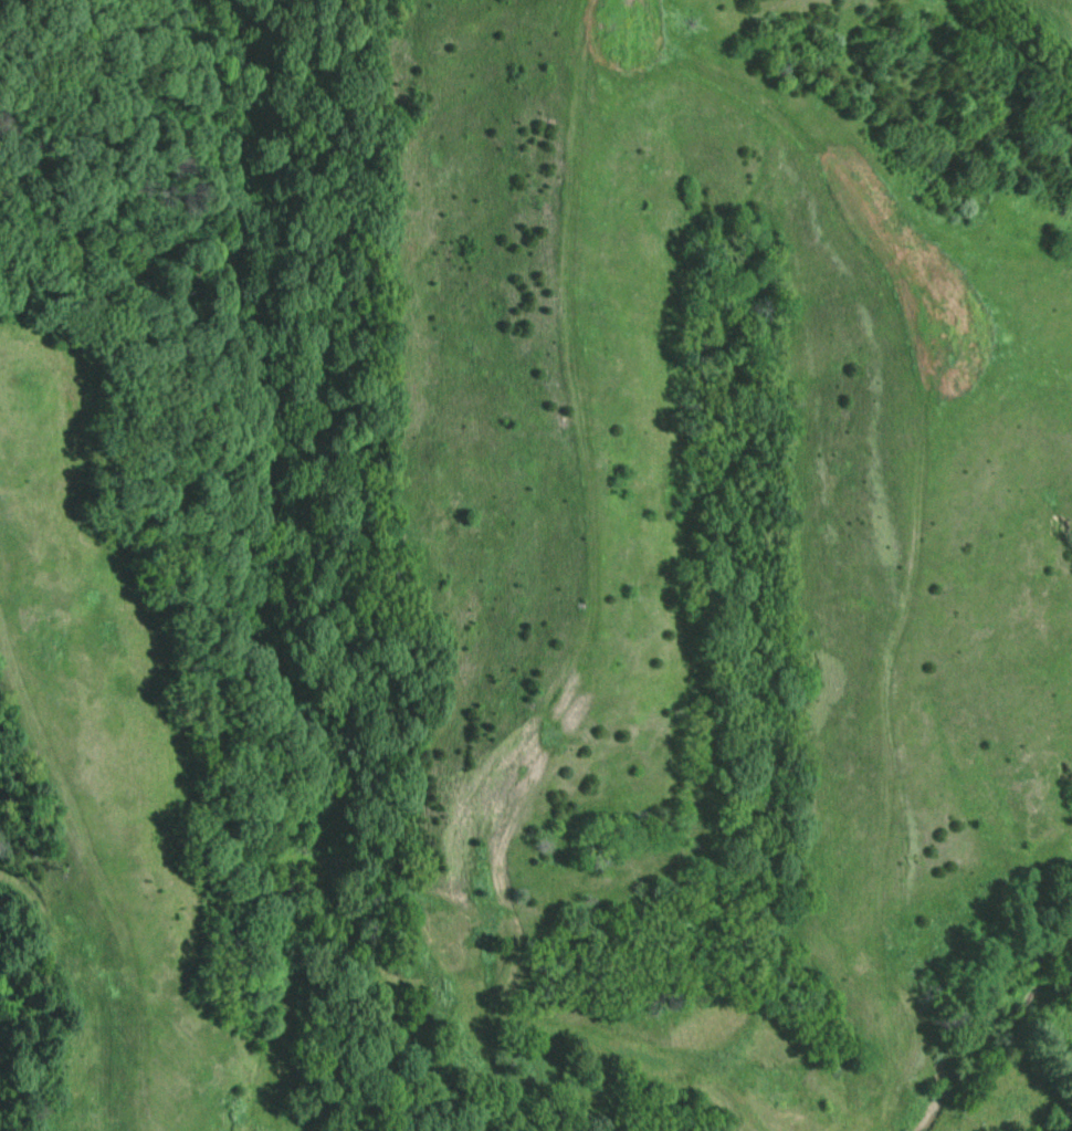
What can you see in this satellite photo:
building: (1026, 1070)
building: (997, 1116)
road: (1069, 1129)

